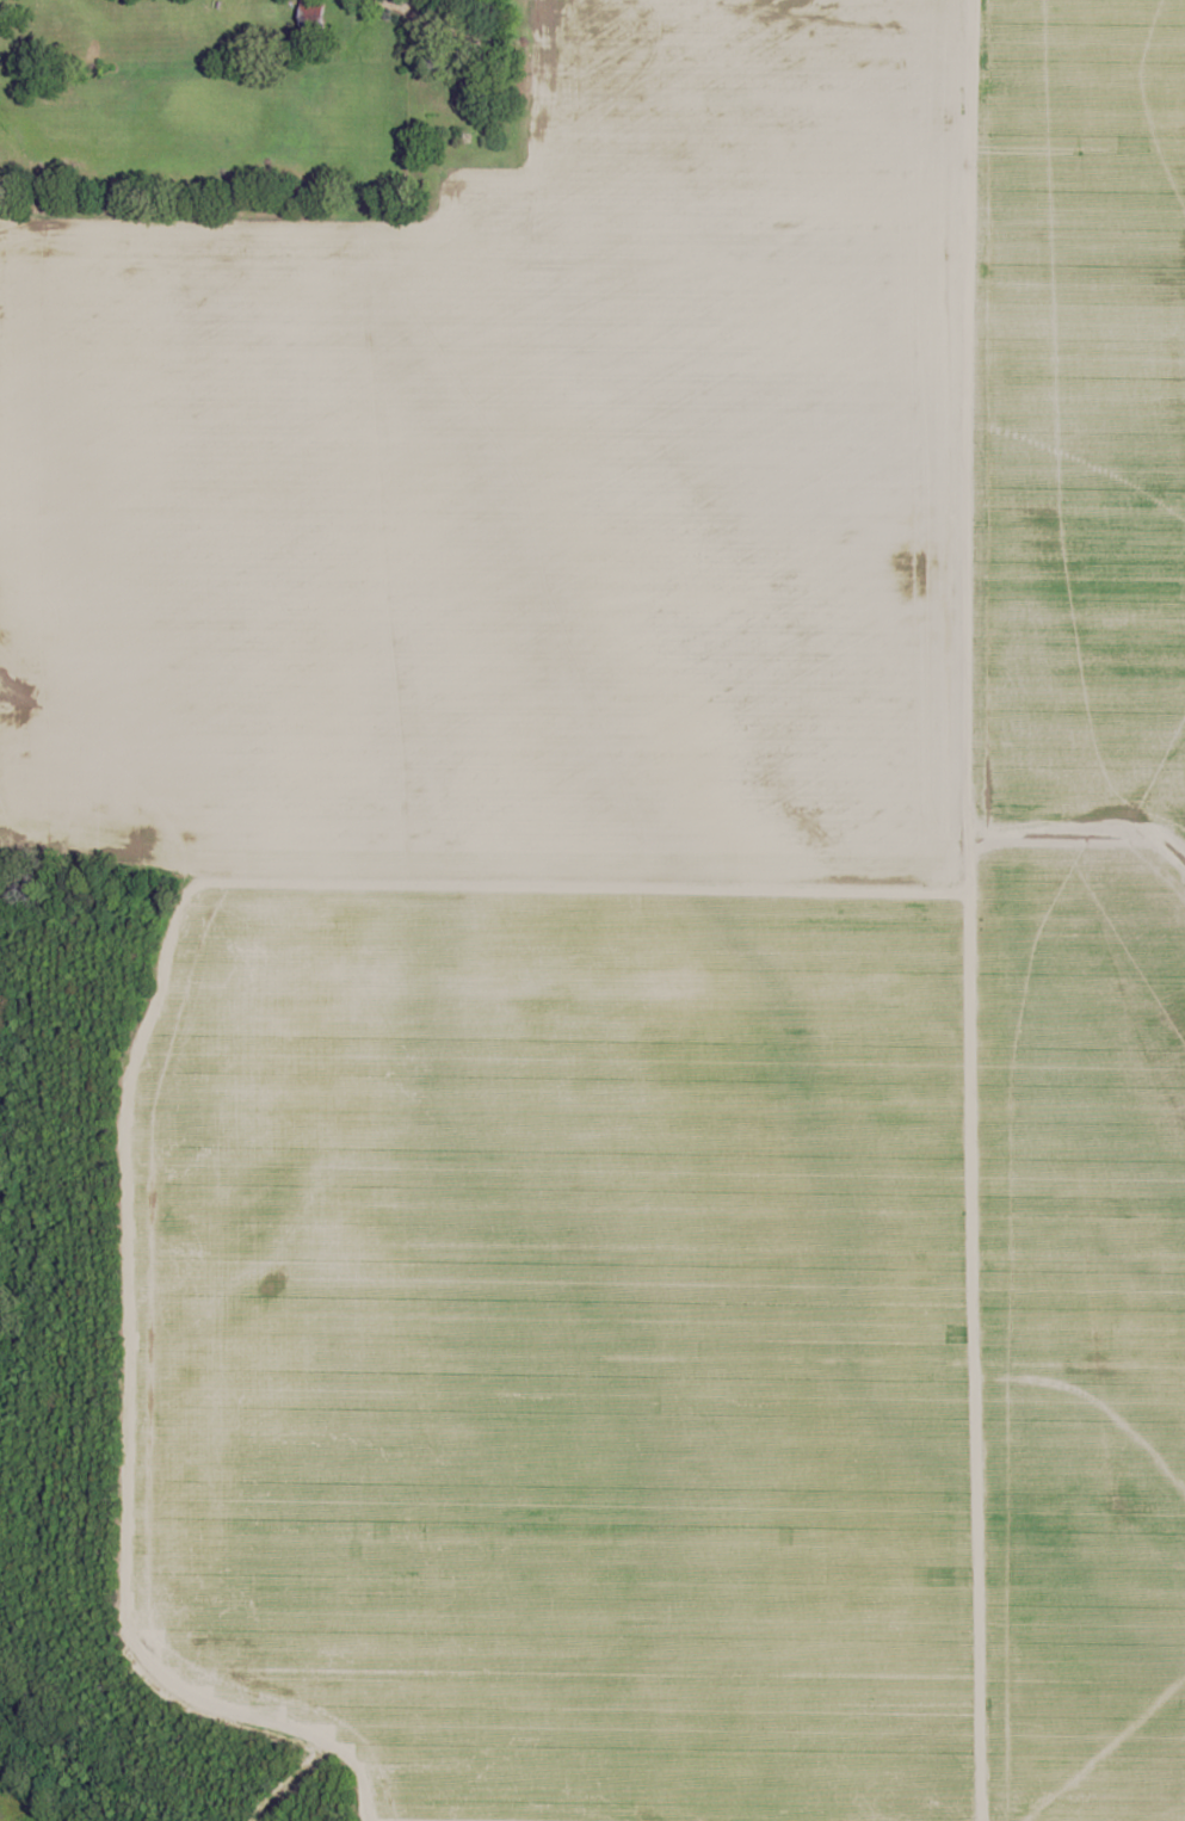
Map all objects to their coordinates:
road: (395, 5)

